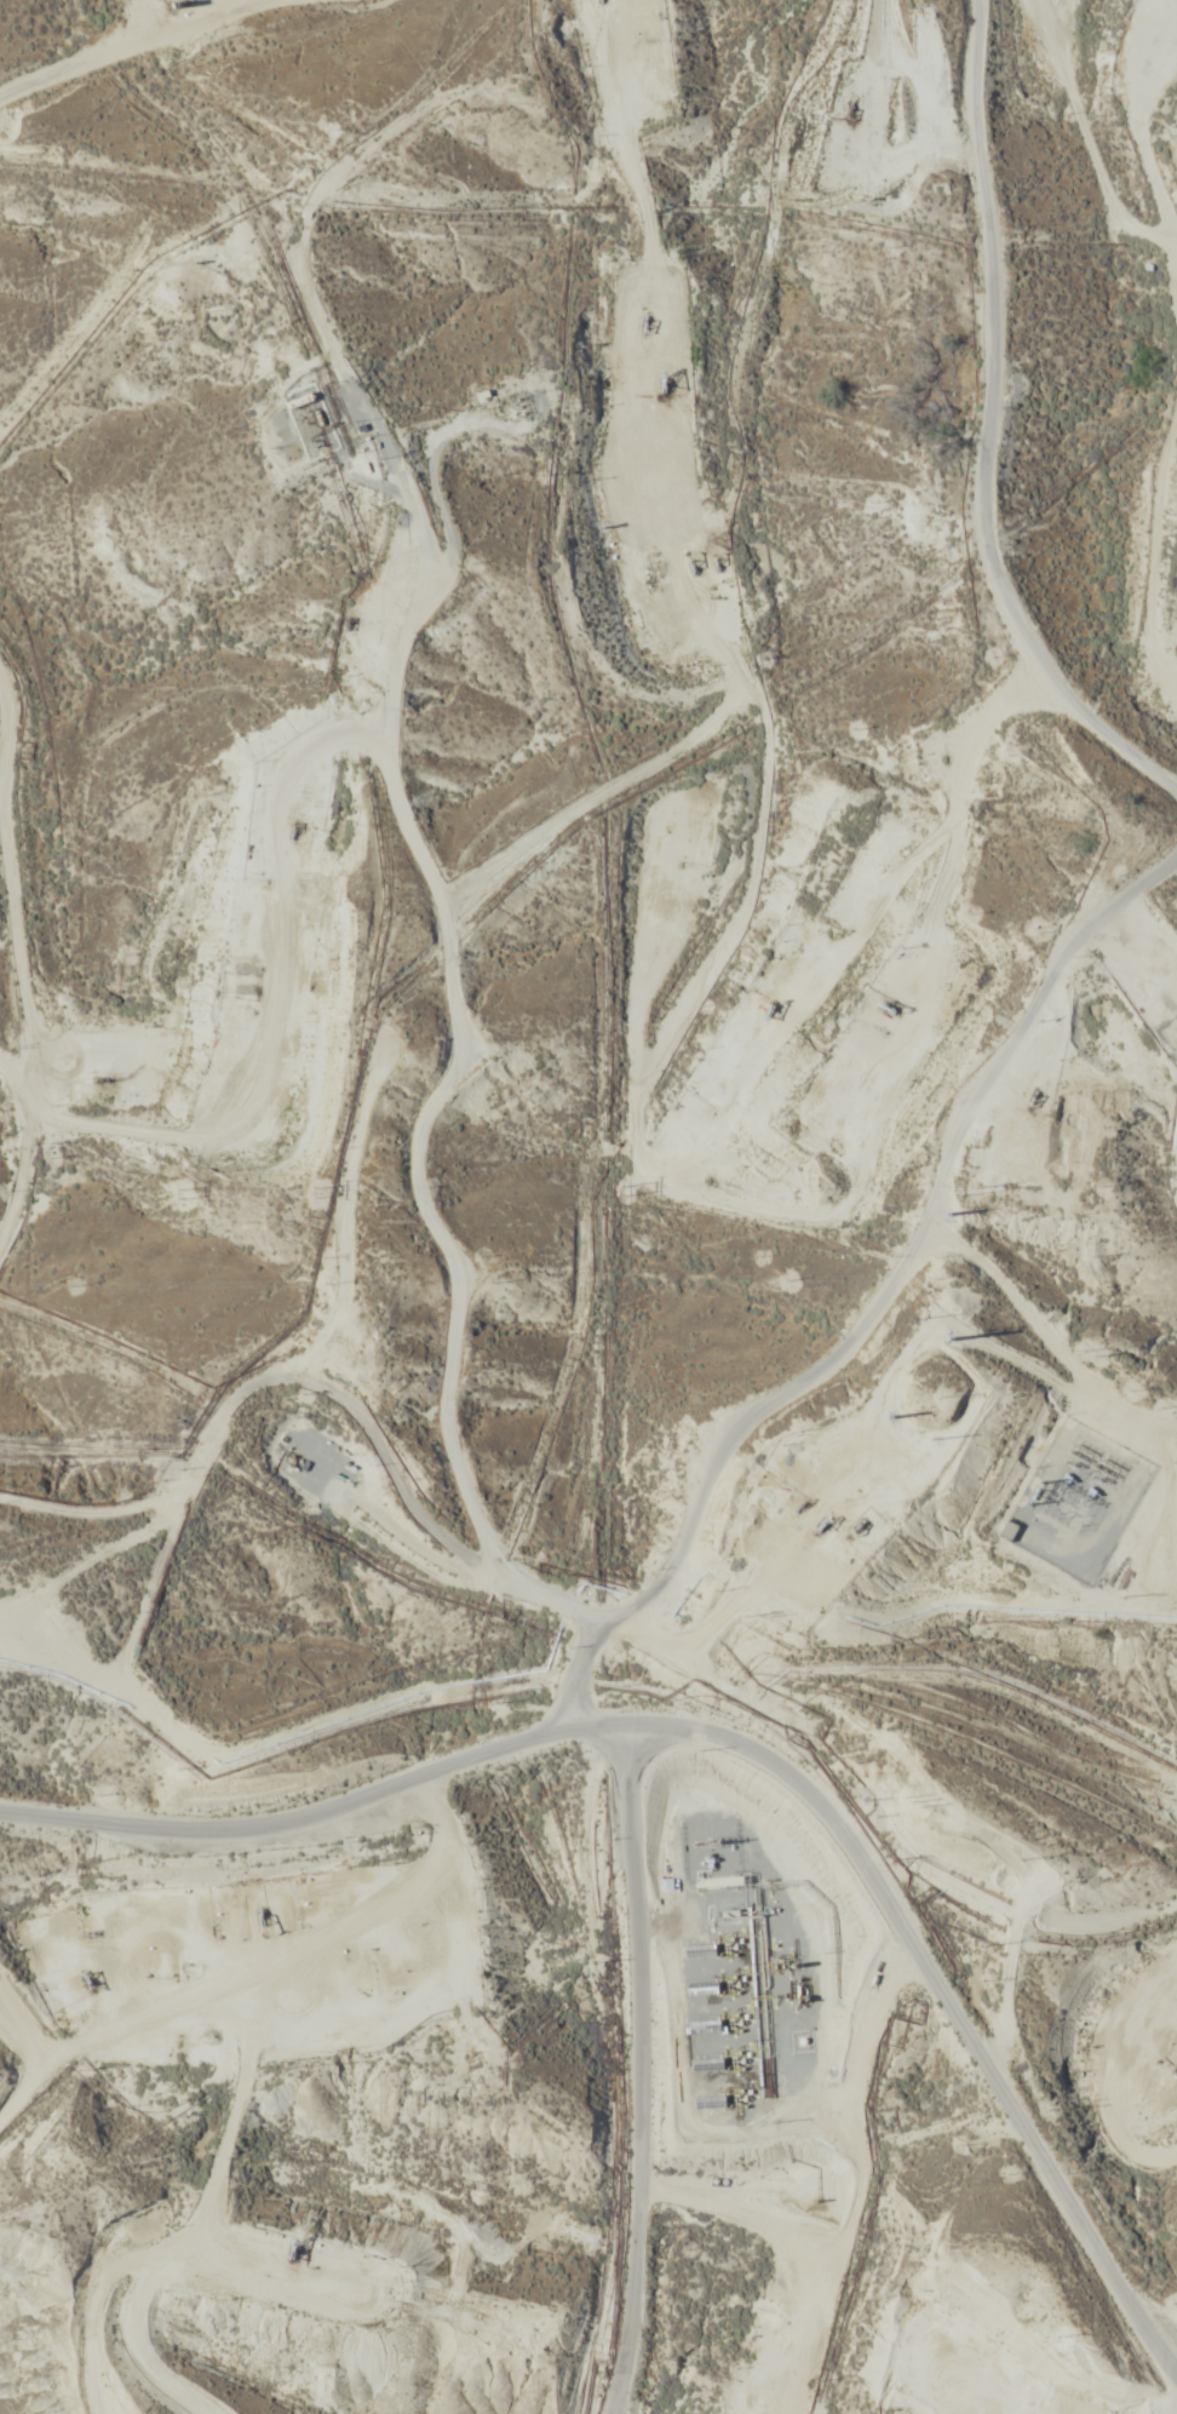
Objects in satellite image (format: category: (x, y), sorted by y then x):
road: (159, 105)
road: (989, 452)
building: (295, 453)
road: (407, 791)
road: (1010, 1030)
building: (1005, 1531)
road: (688, 1624)
road: (745, 1745)
road: (1159, 2023)

